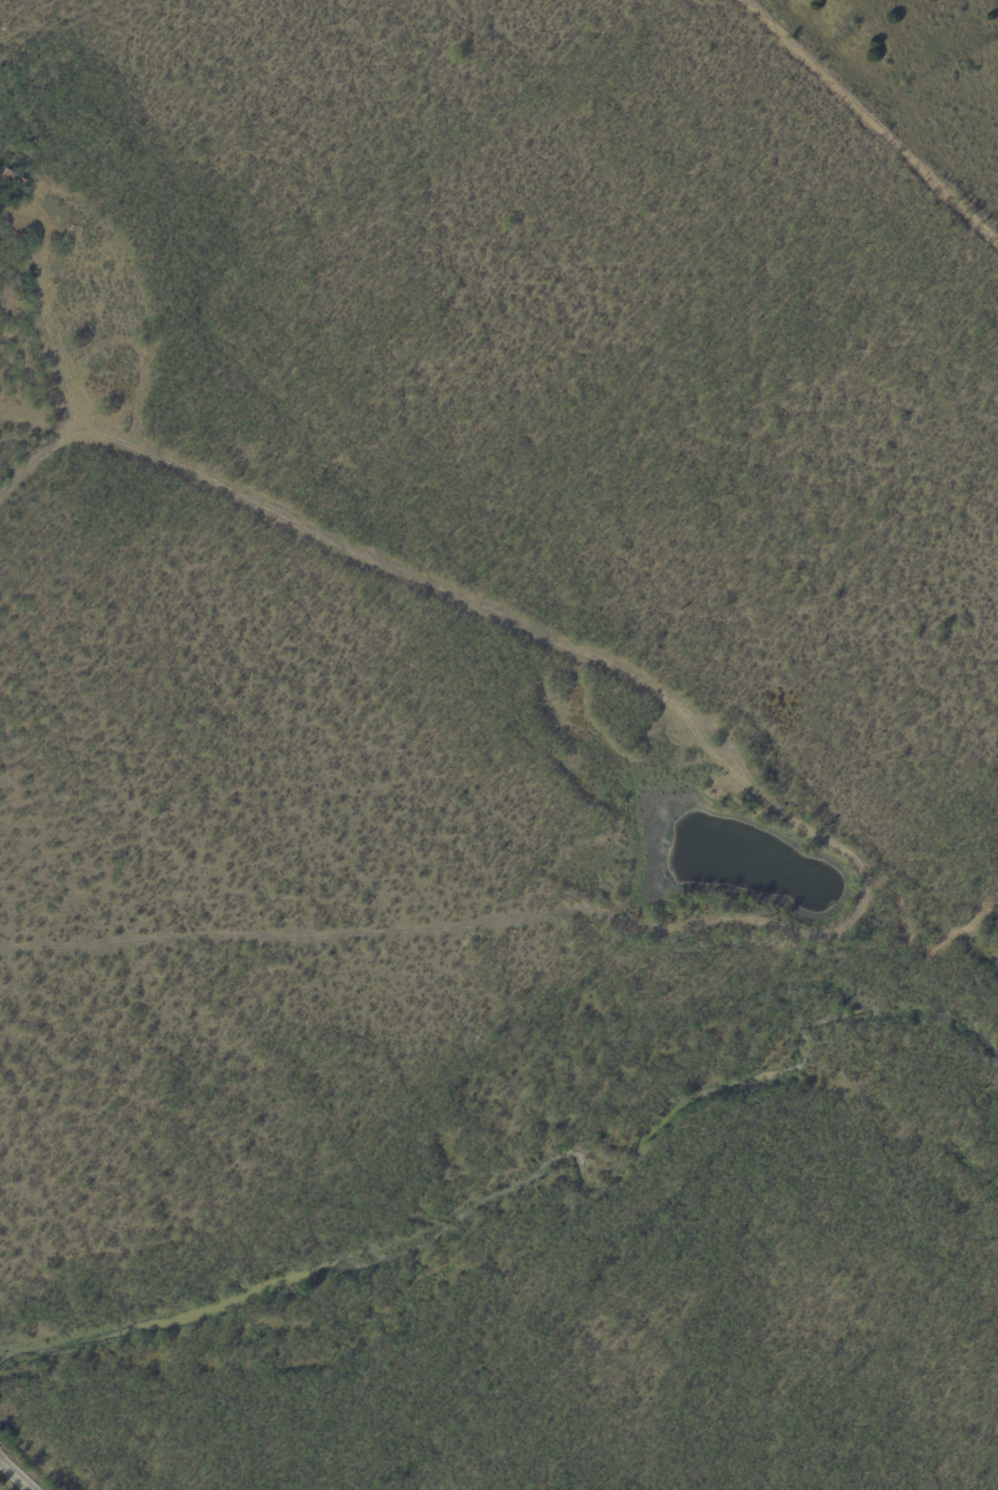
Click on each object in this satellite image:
building: (9, 179)
road: (15, 1475)

